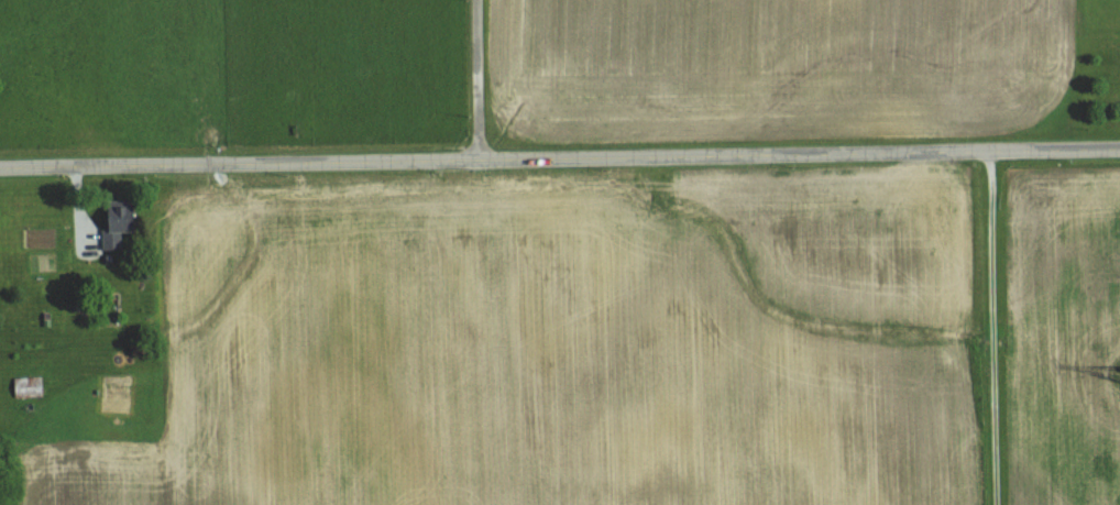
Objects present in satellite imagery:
road: (476, 79)
road: (560, 157)
building: (116, 226)
road: (991, 327)
building: (26, 386)

